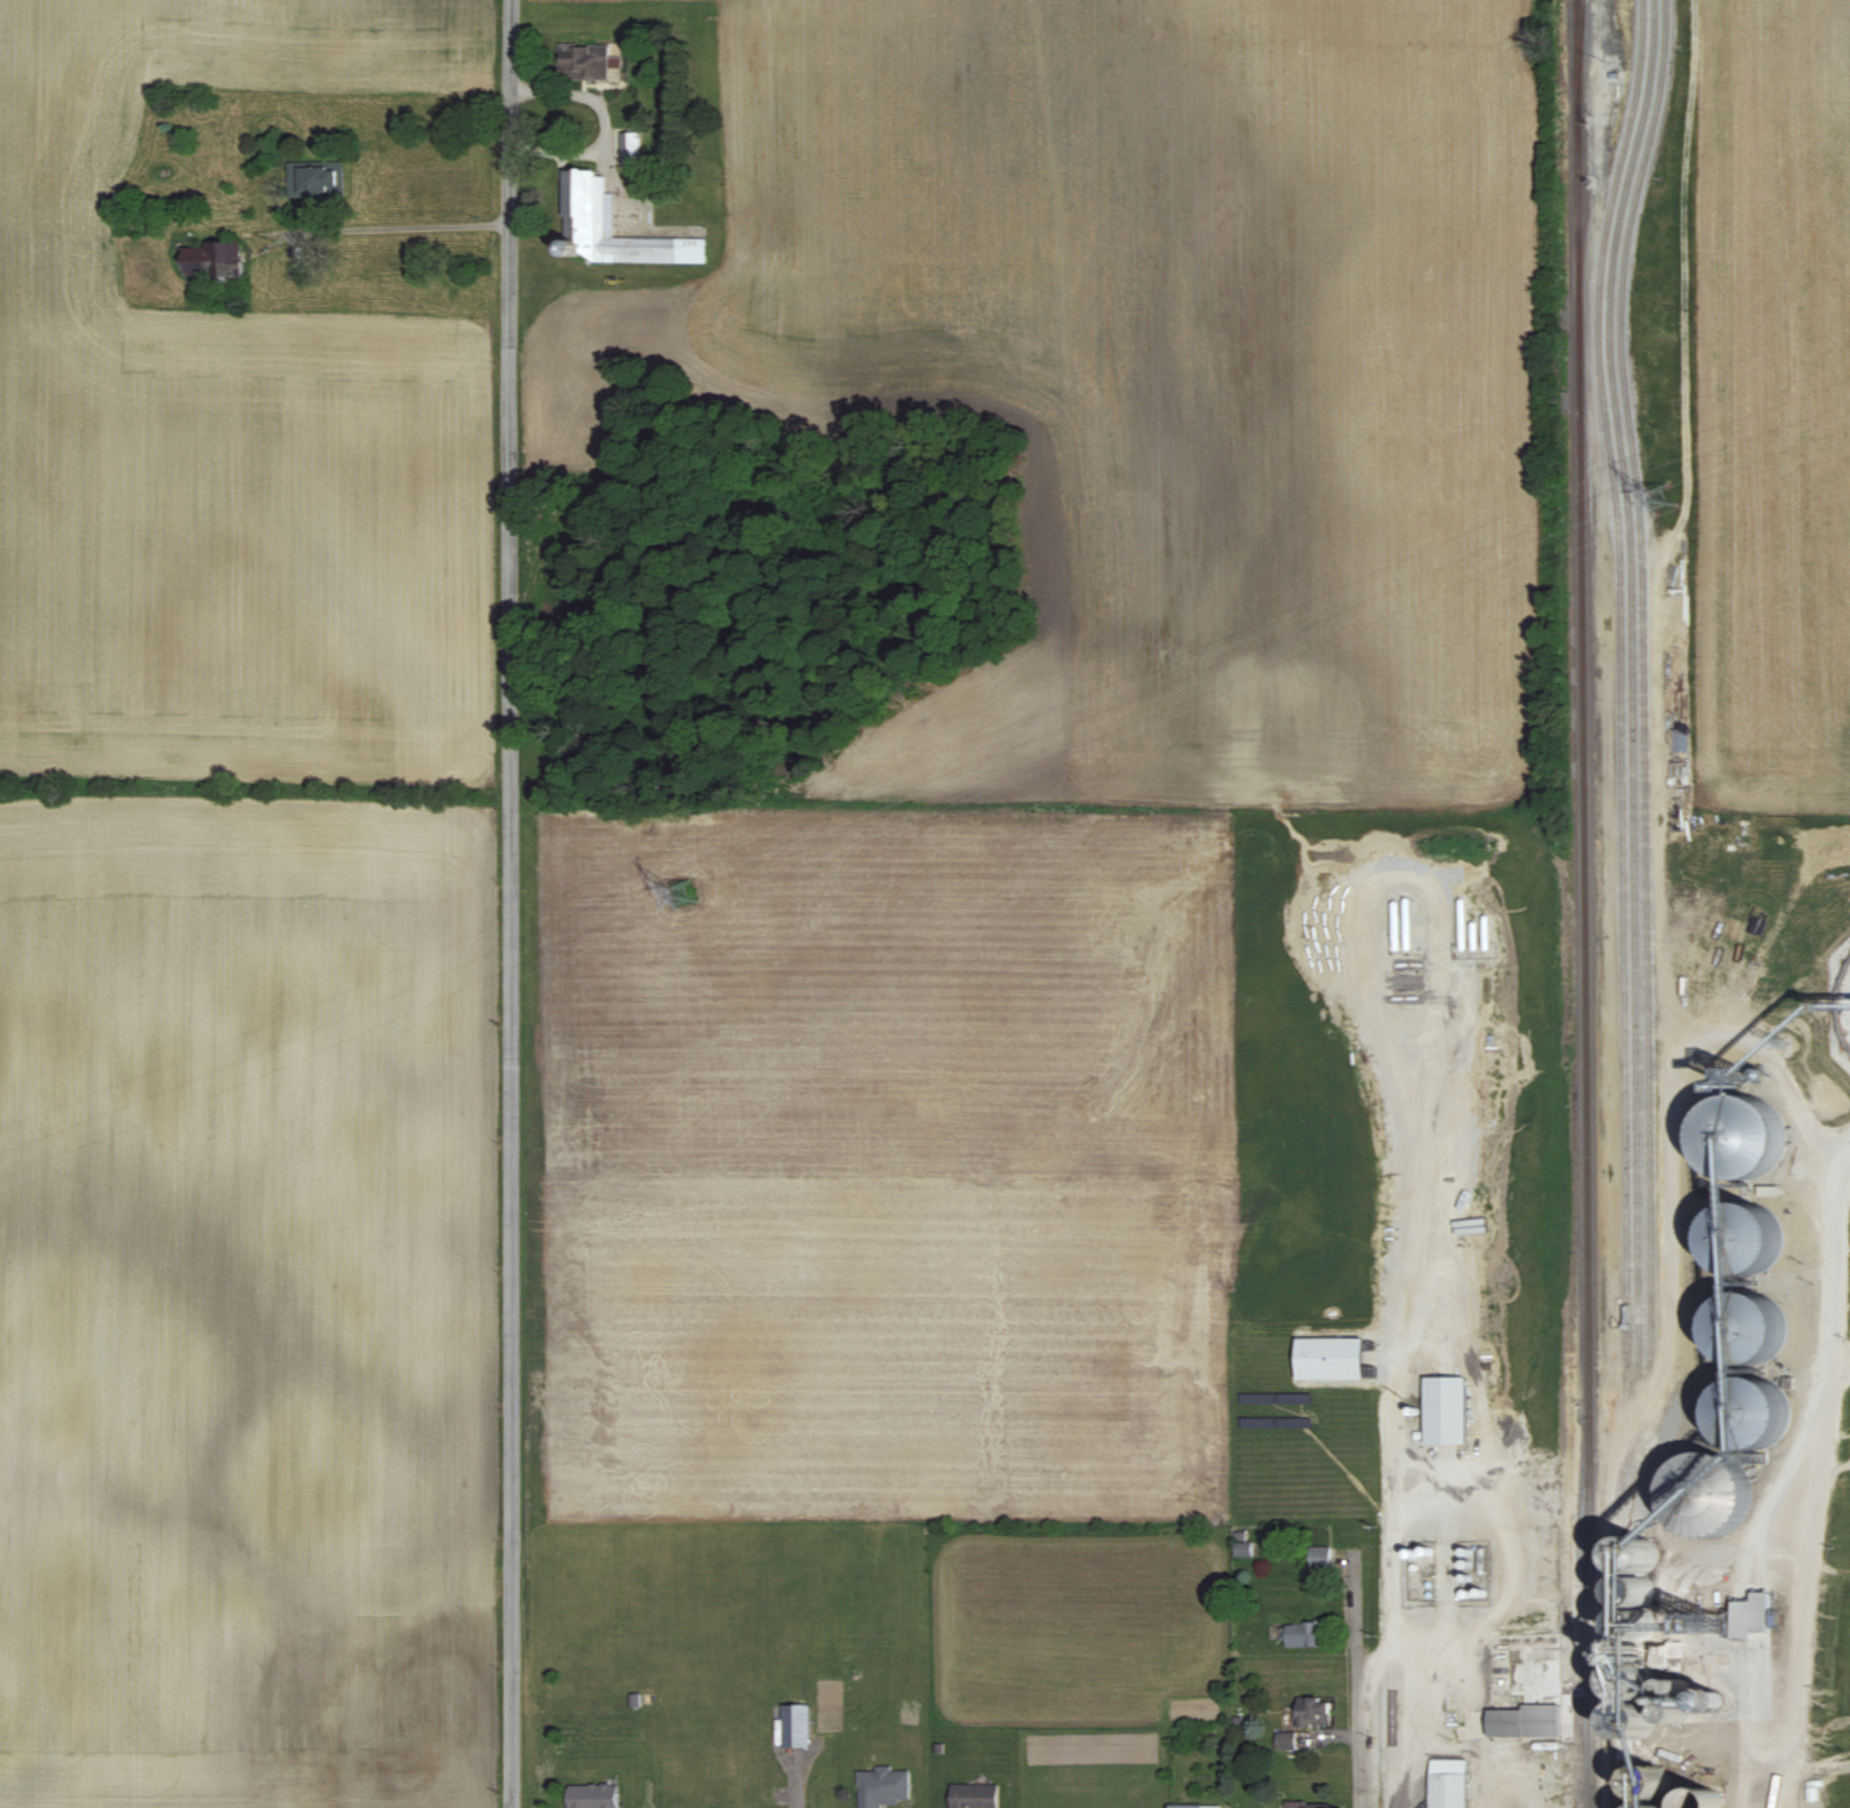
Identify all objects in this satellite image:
railway: (1580, 59)
building: (585, 60)
building: (316, 180)
building: (590, 214)
road: (401, 225)
building: (216, 260)
power tower: (1665, 495)
railway: (1643, 689)
railway: (1620, 700)
railway: (1631, 704)
power tower: (682, 893)
road: (511, 903)
railway: (1583, 903)
silo: (1750, 1134)
building: (1744, 1236)
silo: (1744, 1236)
silo: (1748, 1327)
building: (1764, 1328)
building: (1730, 1329)
building: (1331, 1358)
building: (1739, 1397)
building: (1446, 1410)
silo: (1752, 1411)
railway: (1637, 1415)
railway: (1620, 1461)
building: (1710, 1492)
silo: (1707, 1494)
silo: (1637, 1554)
road: (1802, 1565)
silo: (1637, 1590)
railway: (1612, 1610)
railway: (1579, 1617)
silo: (1637, 1624)
building: (1307, 1635)
silo: (1635, 1681)
road: (1359, 1682)
building: (1530, 1686)
silo: (1680, 1688)
silo: (1680, 1711)
building: (1313, 1712)
silo: (1636, 1721)
building: (1285, 1741)
building: (1449, 1784)
silo: (1652, 1784)
building: (883, 1787)
road: (1754, 1792)
building: (592, 1796)
building: (975, 1796)
silo: (1705, 1798)
building: (1698, 1801)
building: (1193, 1806)
building: (1307, 1806)
silo: (1652, 1806)

